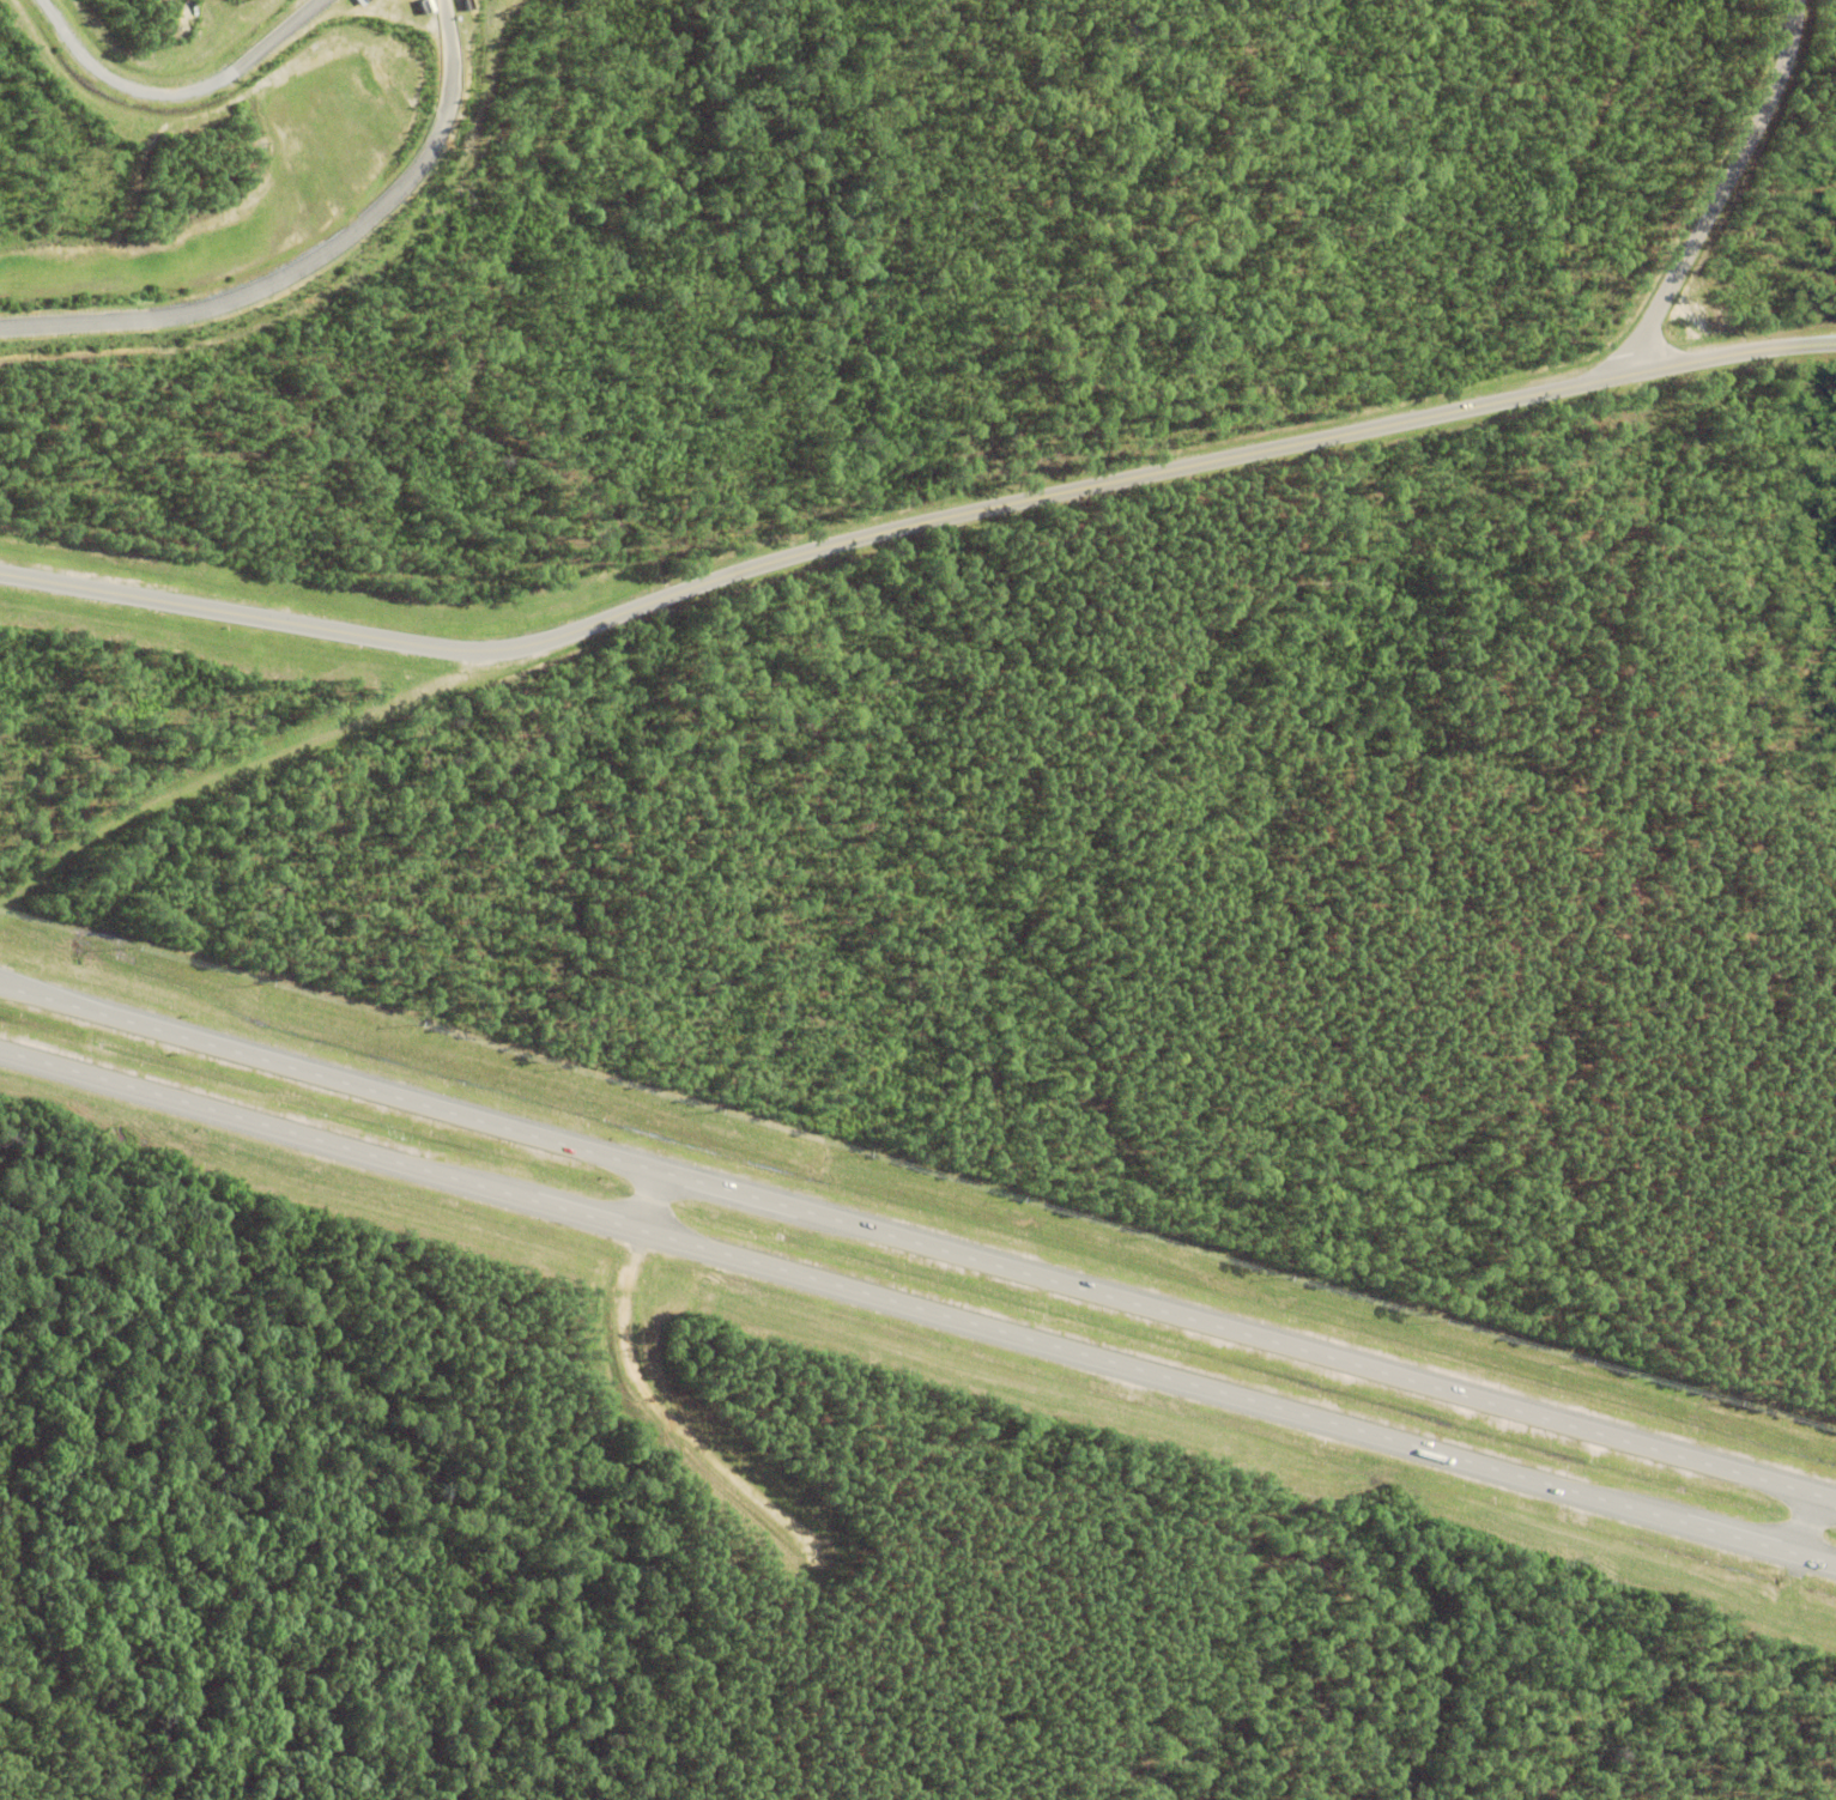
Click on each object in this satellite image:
road: (1723, 192)
road: (915, 527)
road: (917, 1243)
road: (917, 1308)

